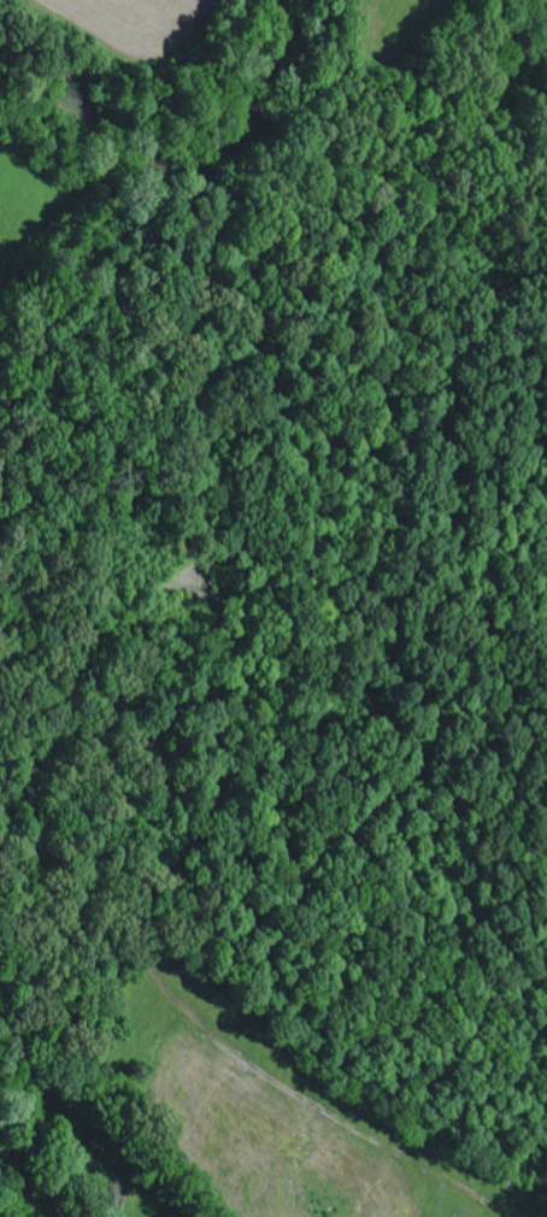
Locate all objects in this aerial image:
river: (186, 158)
river: (24, 1189)

